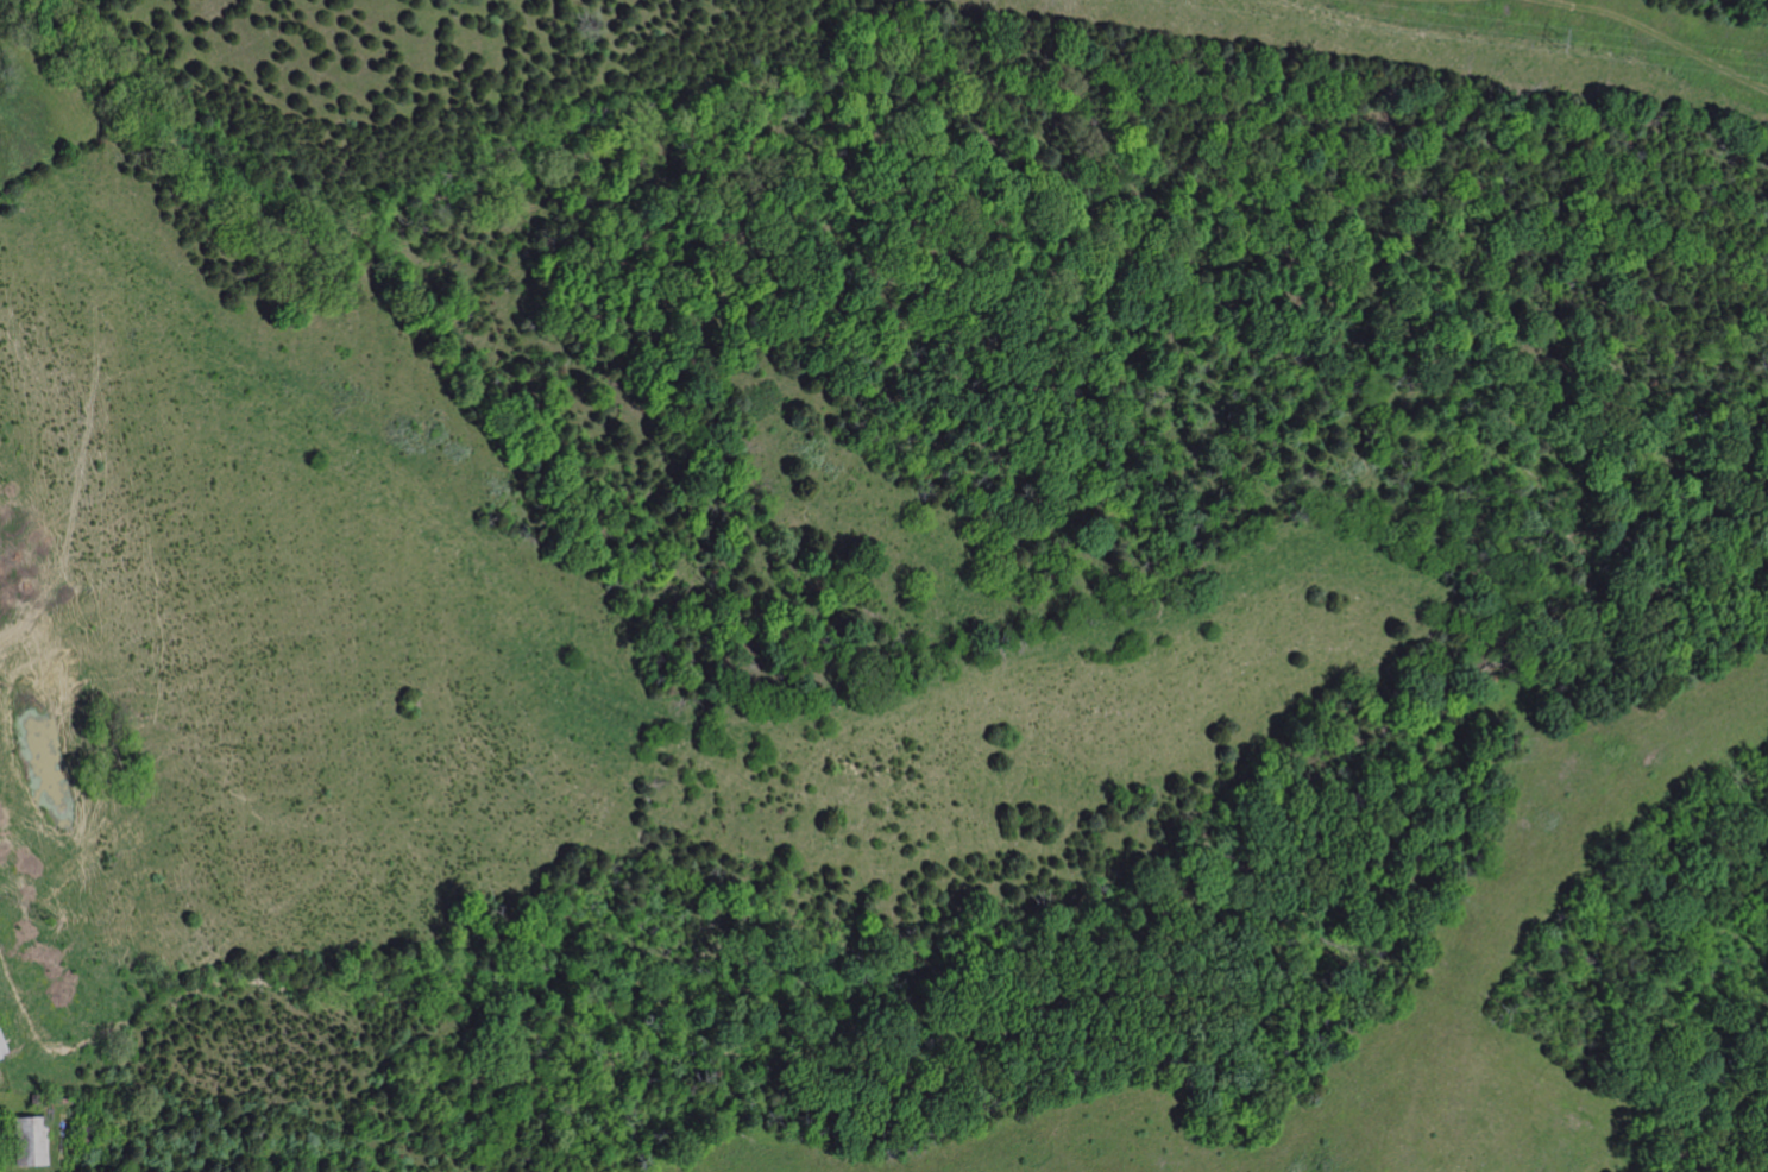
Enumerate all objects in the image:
power tower: (1556, 27)
building: (0, 1048)
building: (83, 1130)
building: (26, 1140)

